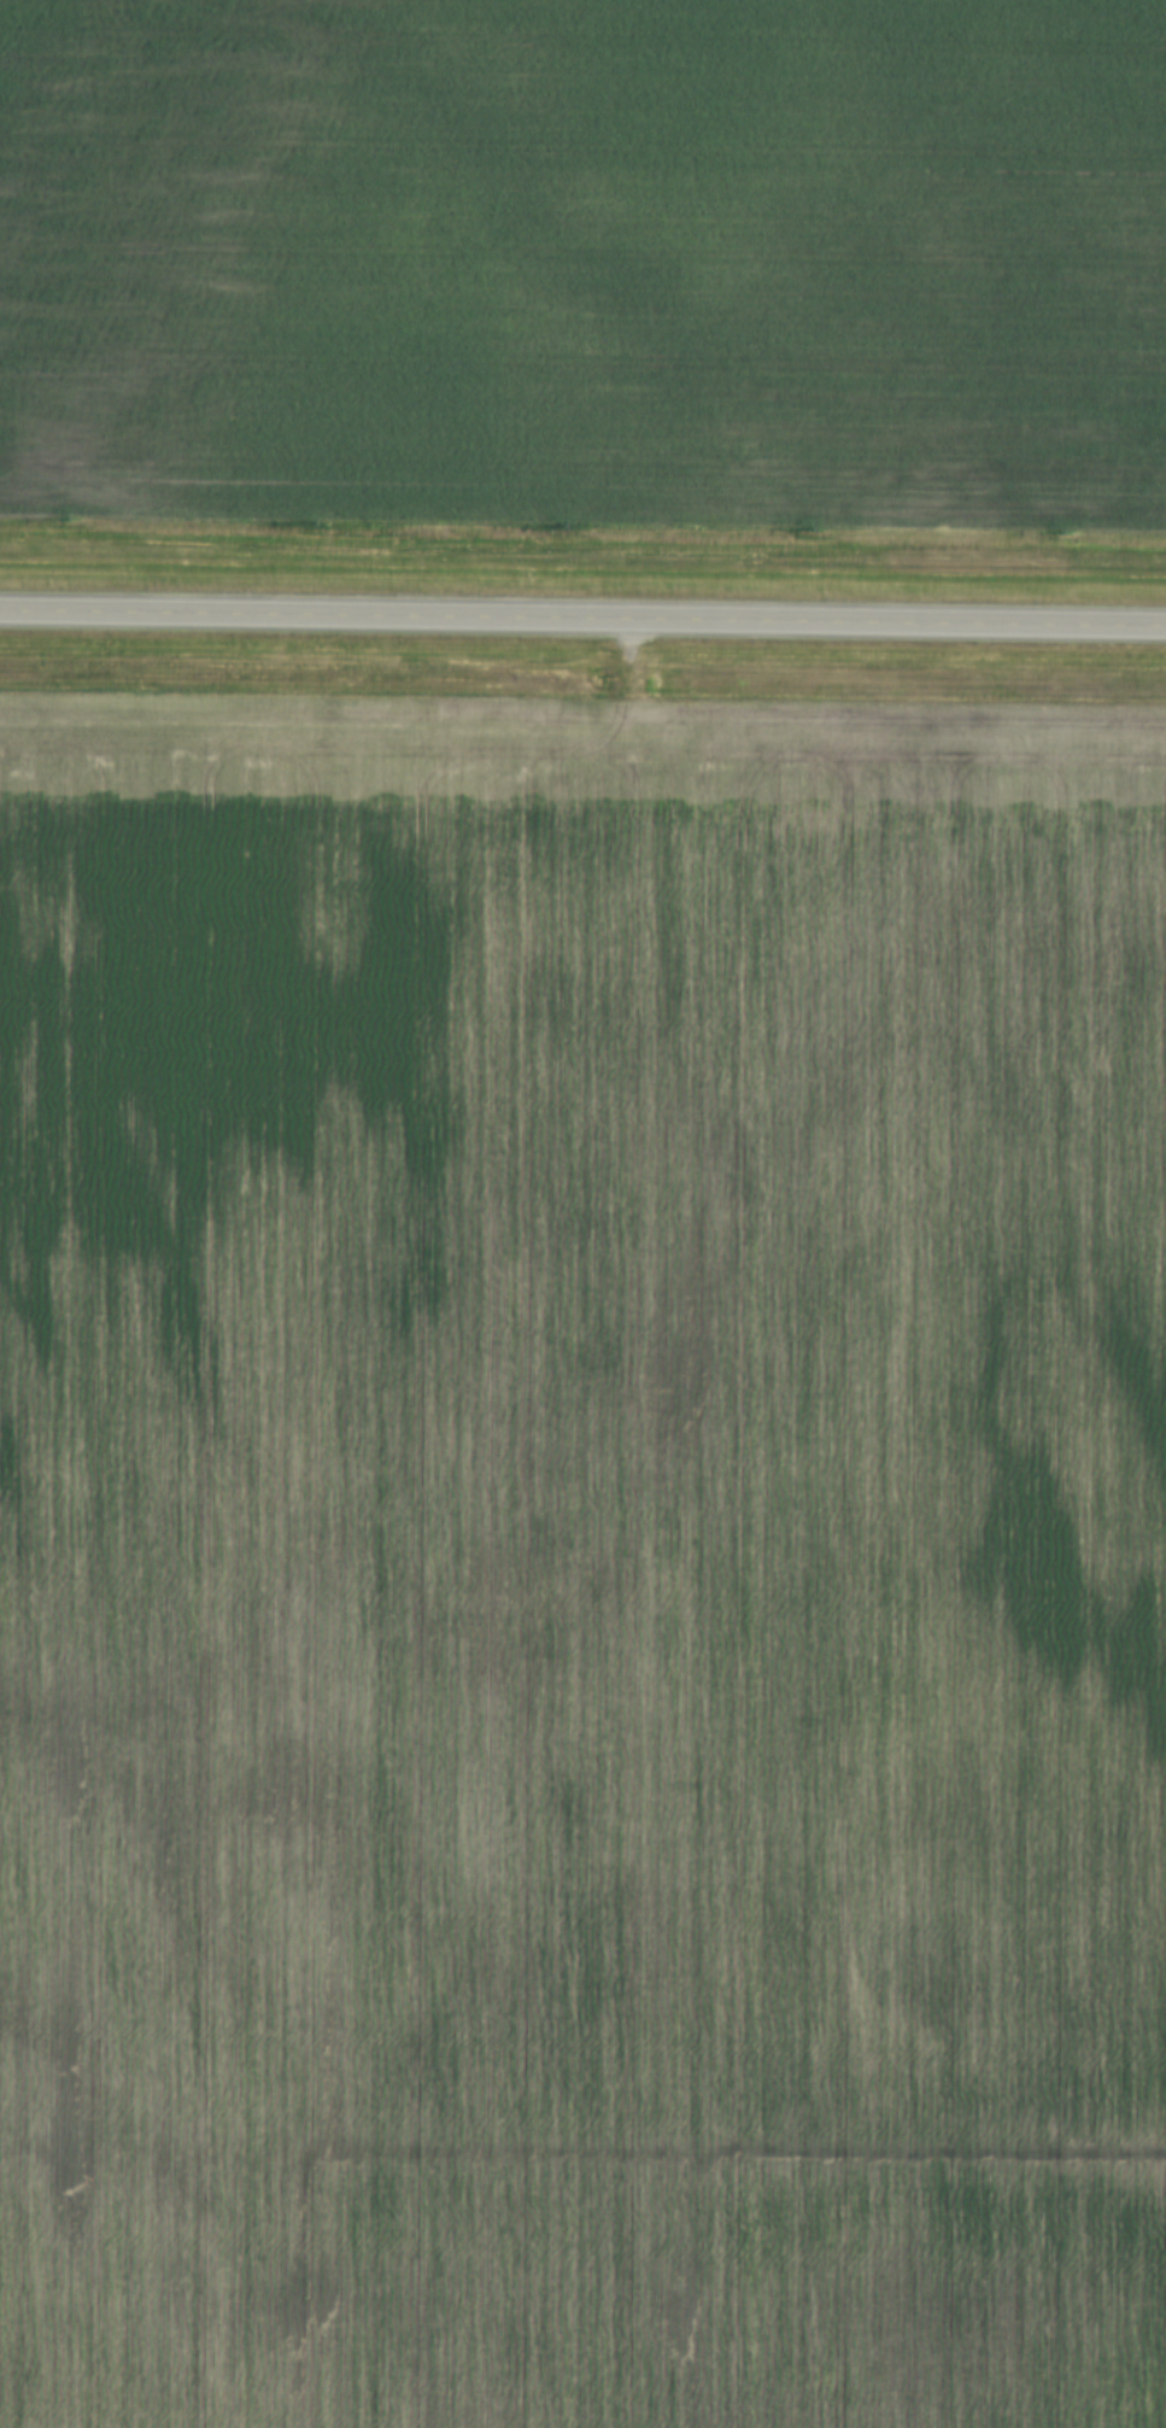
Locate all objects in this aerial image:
road: (582, 624)

